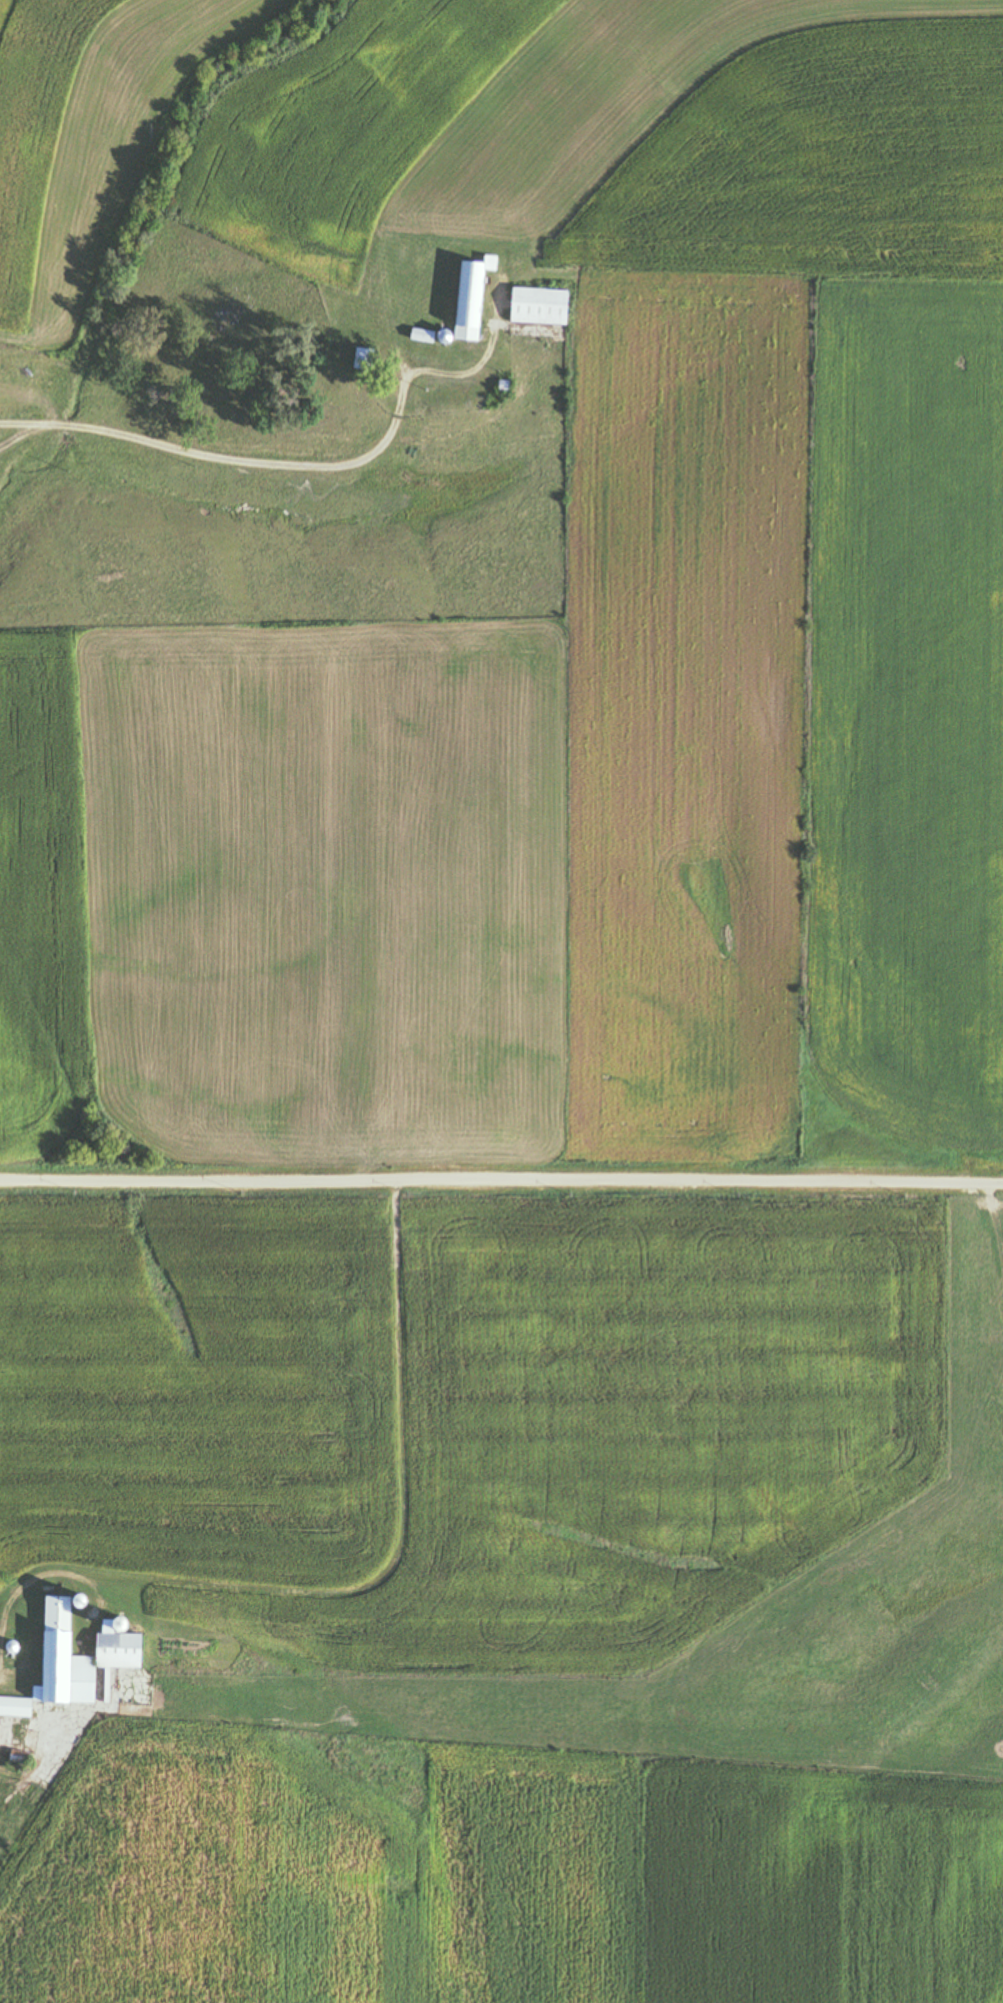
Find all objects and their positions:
building: (467, 297)
building: (535, 306)
building: (326, 384)
road: (181, 467)
road: (501, 1182)
road: (23, 1646)
building: (74, 1652)
road: (4, 1671)
road: (4, 1679)
building: (14, 1708)

